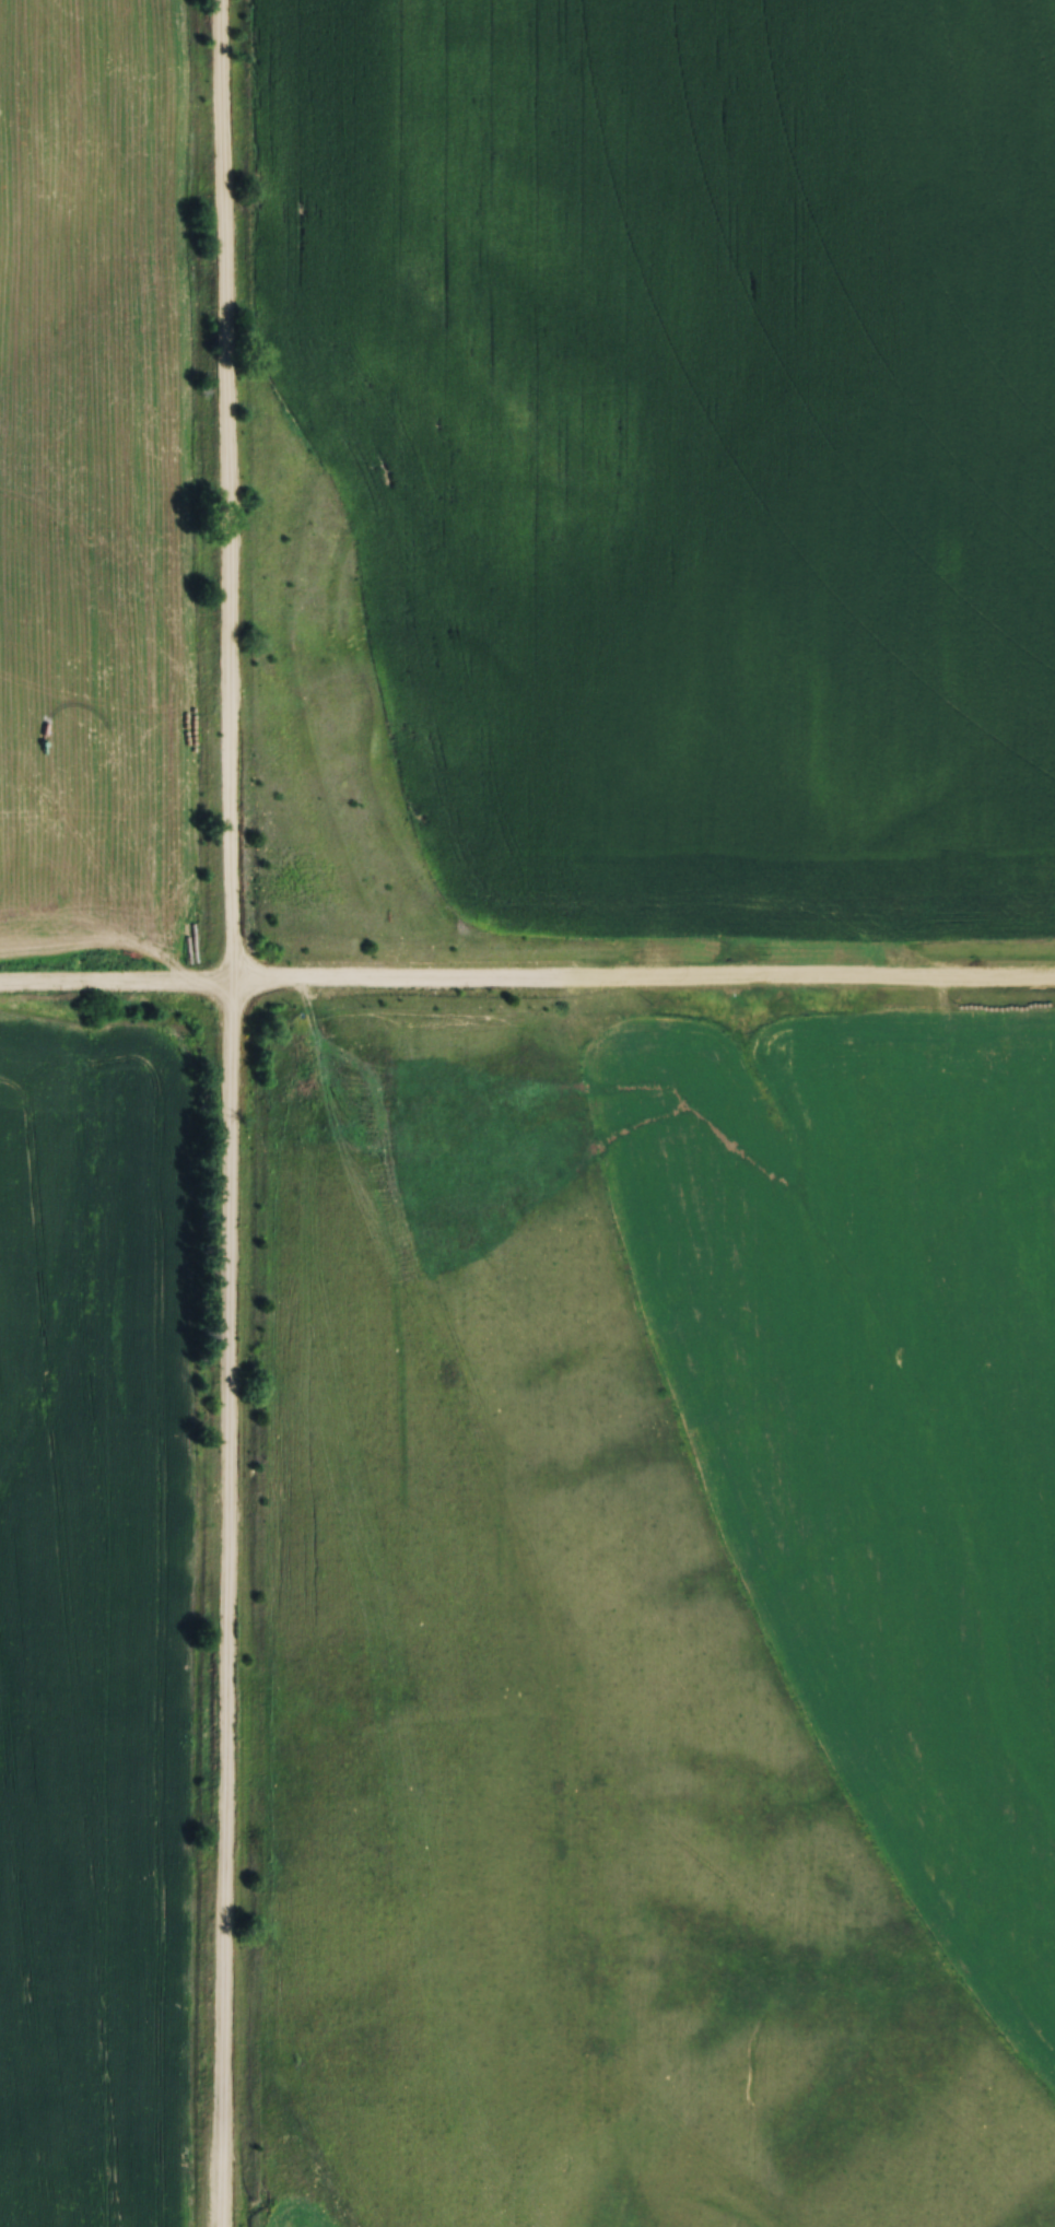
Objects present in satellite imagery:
road: (527, 980)
road: (232, 1113)

